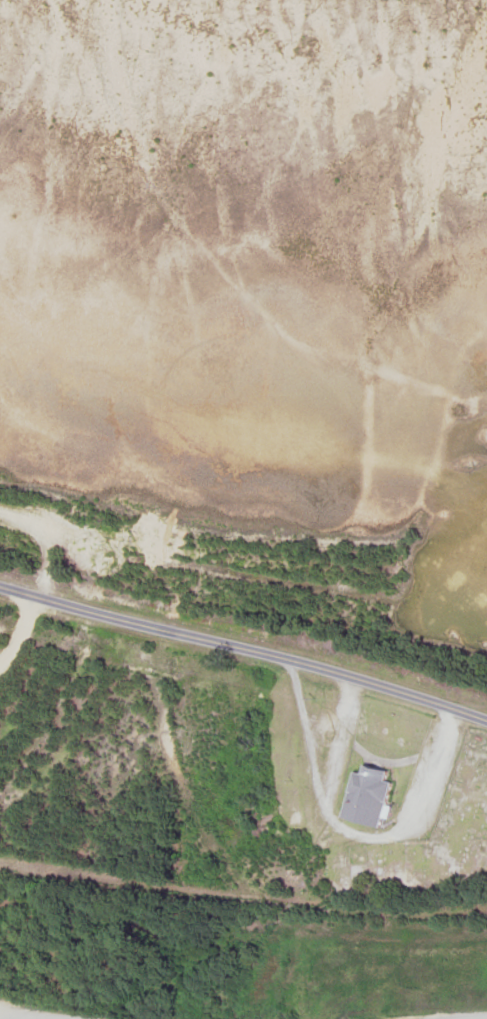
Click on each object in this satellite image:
road: (245, 649)
building: (369, 798)
road: (245, 896)
road: (1, 901)
road: (80, 953)
road: (14, 1017)

